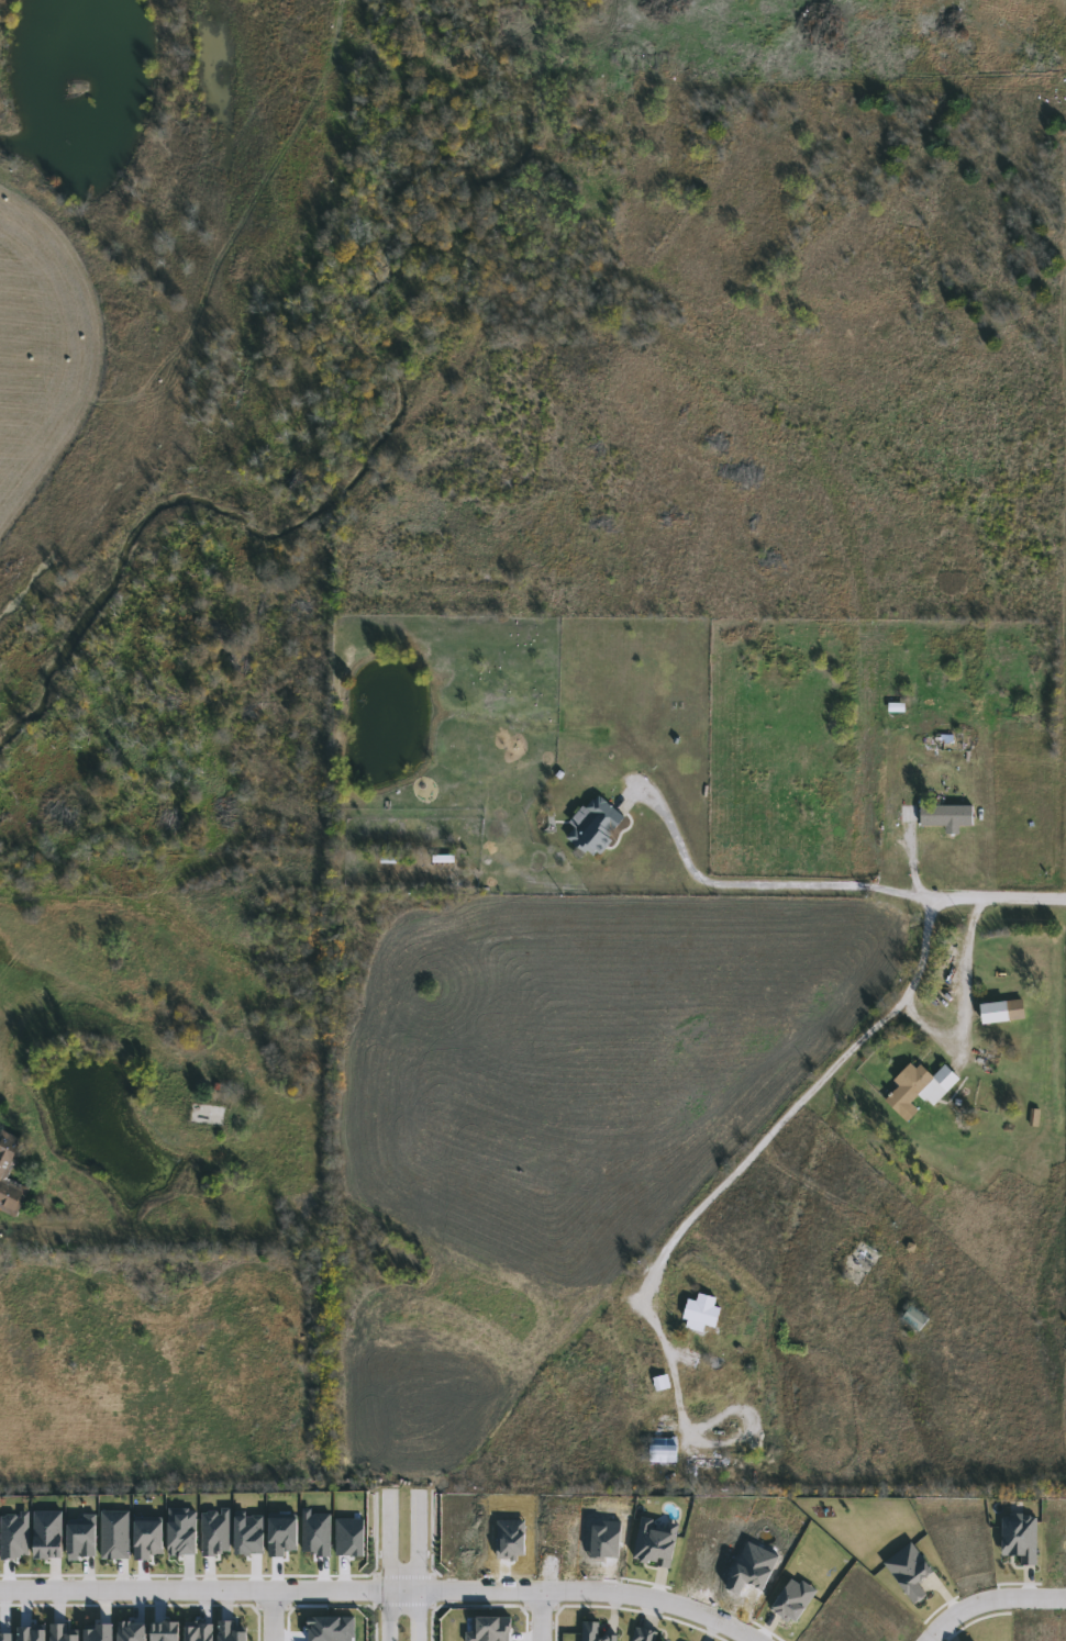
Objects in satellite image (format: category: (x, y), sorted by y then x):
building: (946, 817)
building: (597, 827)
road: (1065, 852)
road: (914, 858)
road: (765, 885)
road: (960, 998)
building: (1004, 1012)
road: (834, 1063)
building: (921, 1090)
building: (10, 1174)
building: (702, 1313)
building: (915, 1319)
building: (690, 1360)
road: (666, 1369)
building: (665, 1443)
road: (418, 1540)
road: (388, 1541)
road: (381, 1590)
road: (989, 1599)
road: (418, 1615)
road: (273, 1616)
road: (388, 1616)
road: (541, 1616)

